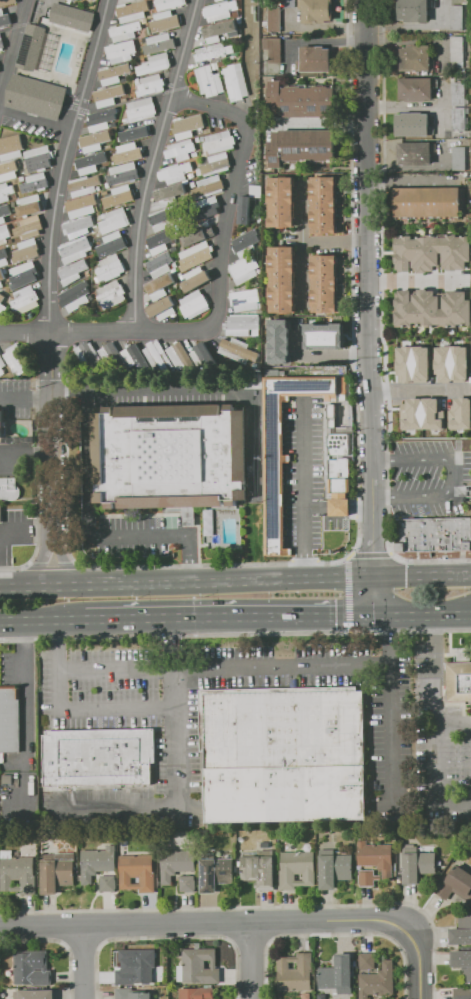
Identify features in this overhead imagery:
building: (128, 0)
building: (215, 0)
building: (6, 2)
building: (39, 2)
building: (68, 2)
building: (169, 4)
building: (35, 8)
building: (412, 9)
building: (132, 10)
building: (219, 10)
building: (316, 11)
building: (150, 16)
building: (71, 17)
building: (457, 17)
building: (4, 18)
building: (274, 18)
building: (164, 21)
building: (218, 30)
building: (125, 31)
building: (1, 42)
building: (158, 43)
building: (30, 46)
building: (457, 48)
building: (240, 49)
building: (273, 49)
building: (120, 51)
building: (212, 51)
road: (15, 55)
building: (415, 57)
building: (315, 59)
building: (154, 64)
building: (114, 73)
building: (123, 79)
building: (138, 80)
building: (209, 81)
building: (235, 82)
building: (150, 85)
building: (415, 89)
building: (458, 94)
building: (108, 95)
building: (35, 96)
building: (124, 99)
building: (301, 101)
building: (140, 109)
building: (458, 118)
building: (100, 119)
road: (36, 120)
building: (125, 120)
building: (413, 124)
building: (187, 127)
building: (135, 133)
building: (198, 133)
building: (95, 141)
building: (219, 141)
building: (108, 146)
building: (301, 147)
building: (10, 148)
building: (116, 148)
building: (180, 150)
building: (130, 152)
building: (415, 153)
building: (193, 155)
building: (38, 158)
building: (459, 158)
building: (90, 162)
road: (65, 164)
building: (216, 164)
building: (9, 171)
building: (176, 172)
building: (122, 173)
building: (21, 178)
building: (34, 182)
building: (83, 185)
building: (211, 185)
building: (97, 188)
building: (255, 189)
building: (5, 192)
building: (170, 194)
building: (118, 196)
road: (145, 201)
building: (281, 202)
building: (428, 202)
building: (13, 203)
building: (30, 205)
building: (323, 205)
building: (78, 207)
building: (204, 209)
building: (244, 209)
building: (4, 212)
building: (103, 216)
building: (165, 219)
building: (259, 219)
building: (114, 220)
road: (227, 226)
building: (28, 227)
building: (78, 227)
building: (199, 233)
building: (4, 234)
building: (246, 240)
building: (162, 241)
road: (307, 242)
building: (111, 244)
building: (75, 249)
building: (26, 250)
building: (432, 252)
building: (195, 254)
building: (3, 256)
building: (160, 264)
building: (174, 265)
building: (109, 268)
building: (244, 270)
building: (73, 271)
building: (173, 271)
road: (307, 272)
building: (87, 273)
building: (24, 275)
building: (1, 277)
building: (195, 278)
building: (282, 279)
road: (417, 281)
building: (325, 283)
building: (158, 286)
road: (367, 289)
building: (110, 294)
building: (75, 296)
building: (26, 300)
building: (245, 300)
building: (2, 303)
building: (193, 304)
building: (162, 308)
building: (432, 309)
road: (381, 317)
building: (239, 325)
road: (26, 333)
building: (322, 335)
building: (278, 340)
building: (107, 350)
building: (420, 351)
building: (240, 352)
road: (320, 353)
building: (133, 355)
building: (158, 355)
building: (202, 355)
road: (53, 356)
building: (91, 356)
building: (179, 356)
building: (17, 359)
building: (2, 365)
building: (464, 374)
road: (70, 388)
road: (223, 389)
parking lot: (16, 395)
road: (27, 399)
building: (429, 399)
building: (460, 413)
building: (411, 419)
building: (1, 423)
building: (337, 444)
building: (283, 451)
road: (27, 455)
building: (170, 456)
parking lot: (17, 458)
road: (454, 474)
parking lot: (308, 475)
parking lot: (421, 478)
road: (54, 483)
building: (339, 486)
building: (9, 489)
road: (304, 491)
road: (338, 506)
building: (1, 514)
building: (208, 521)
road: (25, 531)
road: (90, 535)
parking lot: (140, 535)
building: (433, 535)
flagpole: (171, 548)
road: (371, 555)
road: (421, 577)
road: (186, 585)
road: (372, 597)
road: (422, 616)
road: (230, 618)
road: (43, 621)
road: (235, 634)
road: (389, 640)
road: (59, 645)
road: (223, 666)
road: (435, 672)
building: (458, 680)
road: (59, 692)
road: (119, 714)
road: (26, 715)
building: (10, 720)
road: (454, 728)
road: (390, 731)
building: (285, 753)
building: (99, 757)
building: (7, 778)
road: (437, 780)
road: (178, 799)
building: (216, 839)
building: (300, 843)
building: (265, 845)
building: (123, 848)
building: (32, 850)
building: (376, 856)
building: (97, 862)
building: (239, 863)
building: (176, 864)
building: (418, 866)
building: (235, 868)
building: (297, 869)
building: (335, 869)
building: (260, 870)
building: (57, 872)
building: (137, 872)
building: (18, 873)
building: (215, 873)
building: (367, 877)
building: (399, 879)
building: (108, 883)
building: (187, 883)
building: (455, 883)
road: (258, 906)
road: (205, 922)
building: (461, 929)
road: (247, 960)
building: (367, 960)
road: (415, 960)
road: (83, 961)
building: (462, 962)
building: (200, 966)
building: (135, 967)
building: (32, 969)
building: (295, 972)
building: (179, 973)
building: (337, 974)
building: (377, 981)
building: (133, 993)
building: (196, 993)
building: (462, 993)
building: (34, 994)

